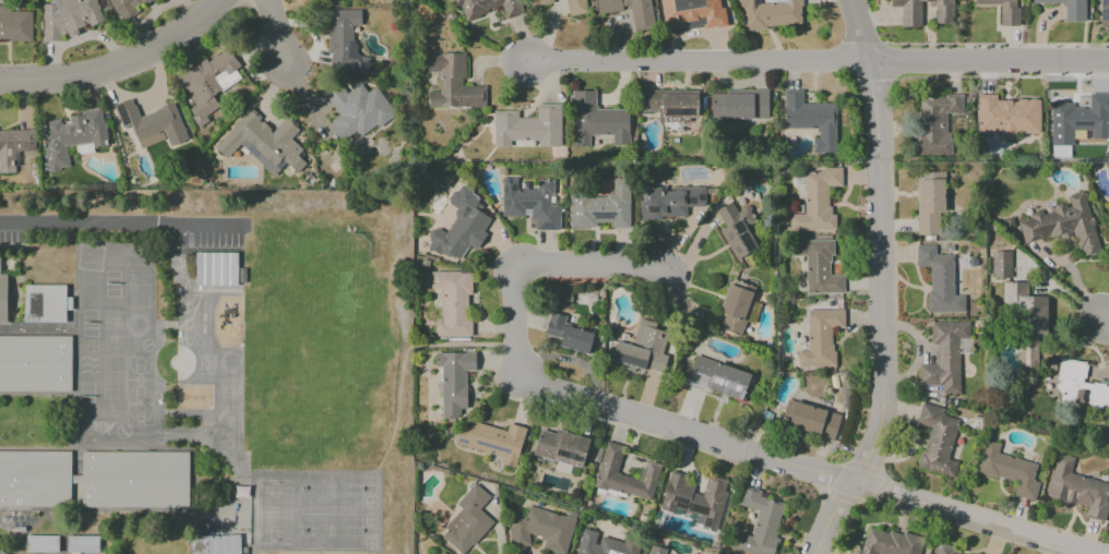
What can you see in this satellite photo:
building: (569, 5)
building: (487, 7)
building: (126, 8)
building: (1069, 9)
building: (1003, 10)
building: (691, 13)
building: (1104, 13)
building: (770, 14)
building: (910, 15)
building: (68, 17)
building: (641, 21)
building: (15, 24)
road: (278, 31)
building: (343, 40)
road: (822, 62)
road: (120, 65)
building: (207, 83)
building: (452, 83)
building: (670, 104)
building: (738, 105)
building: (356, 110)
rooftop solar panel: (683, 112)
rooftop solar panel: (124, 113)
building: (1007, 116)
building: (1078, 119)
building: (597, 120)
building: (811, 120)
building: (934, 122)
building: (151, 123)
building: (528, 127)
building: (72, 136)
building: (263, 143)
building: (14, 146)
rooftop solar panel: (251, 149)
building: (1060, 150)
rooftop solar panel: (265, 164)
rooftop solar panel: (693, 201)
building: (816, 201)
building: (668, 202)
building: (530, 203)
building: (930, 203)
building: (601, 207)
rooftop solar panel: (659, 209)
rooftop solar panel: (606, 216)
road: (123, 222)
building: (1063, 225)
parking lot: (12, 227)
building: (461, 227)
rooftop solar panel: (742, 228)
building: (737, 229)
parking lot: (205, 231)
rooftop solar panel: (752, 239)
rooftop solar panel: (218, 262)
rooftop solar panel: (237, 263)
rooftop solar panel: (201, 264)
rooftop solar panel: (207, 264)
rooftop solar panel: (227, 264)
building: (1000, 264)
building: (818, 266)
building: (218, 268)
road: (539, 268)
building: (939, 280)
road: (881, 281)
building: (3, 294)
building: (46, 302)
building: (453, 302)
building: (735, 306)
building: (1026, 309)
road: (1105, 322)
road: (39, 329)
building: (568, 334)
building: (820, 337)
building: (642, 348)
road: (406, 352)
building: (944, 357)
road: (574, 360)
building: (35, 363)
building: (717, 378)
building: (453, 382)
building: (1078, 388)
building: (809, 420)
building: (492, 441)
building: (937, 441)
rooftop solar panel: (461, 442)
rooftop solar panel: (491, 446)
building: (561, 447)
rooftop solar panel: (562, 455)
rooftop solar panel: (570, 456)
rooftop solar panel: (575, 458)
building: (607, 469)
road: (810, 470)
building: (1009, 470)
building: (97, 478)
building: (1077, 489)
building: (695, 499)
rooftop solar panel: (683, 502)
park: (315, 509)
rooftop solar panel: (697, 510)
building: (467, 520)
building: (759, 523)
building: (541, 530)
building: (82, 542)
building: (889, 543)
building: (43, 544)
building: (214, 544)
building: (604, 544)
building: (943, 549)
building: (656, 550)
road: (254, 552)

